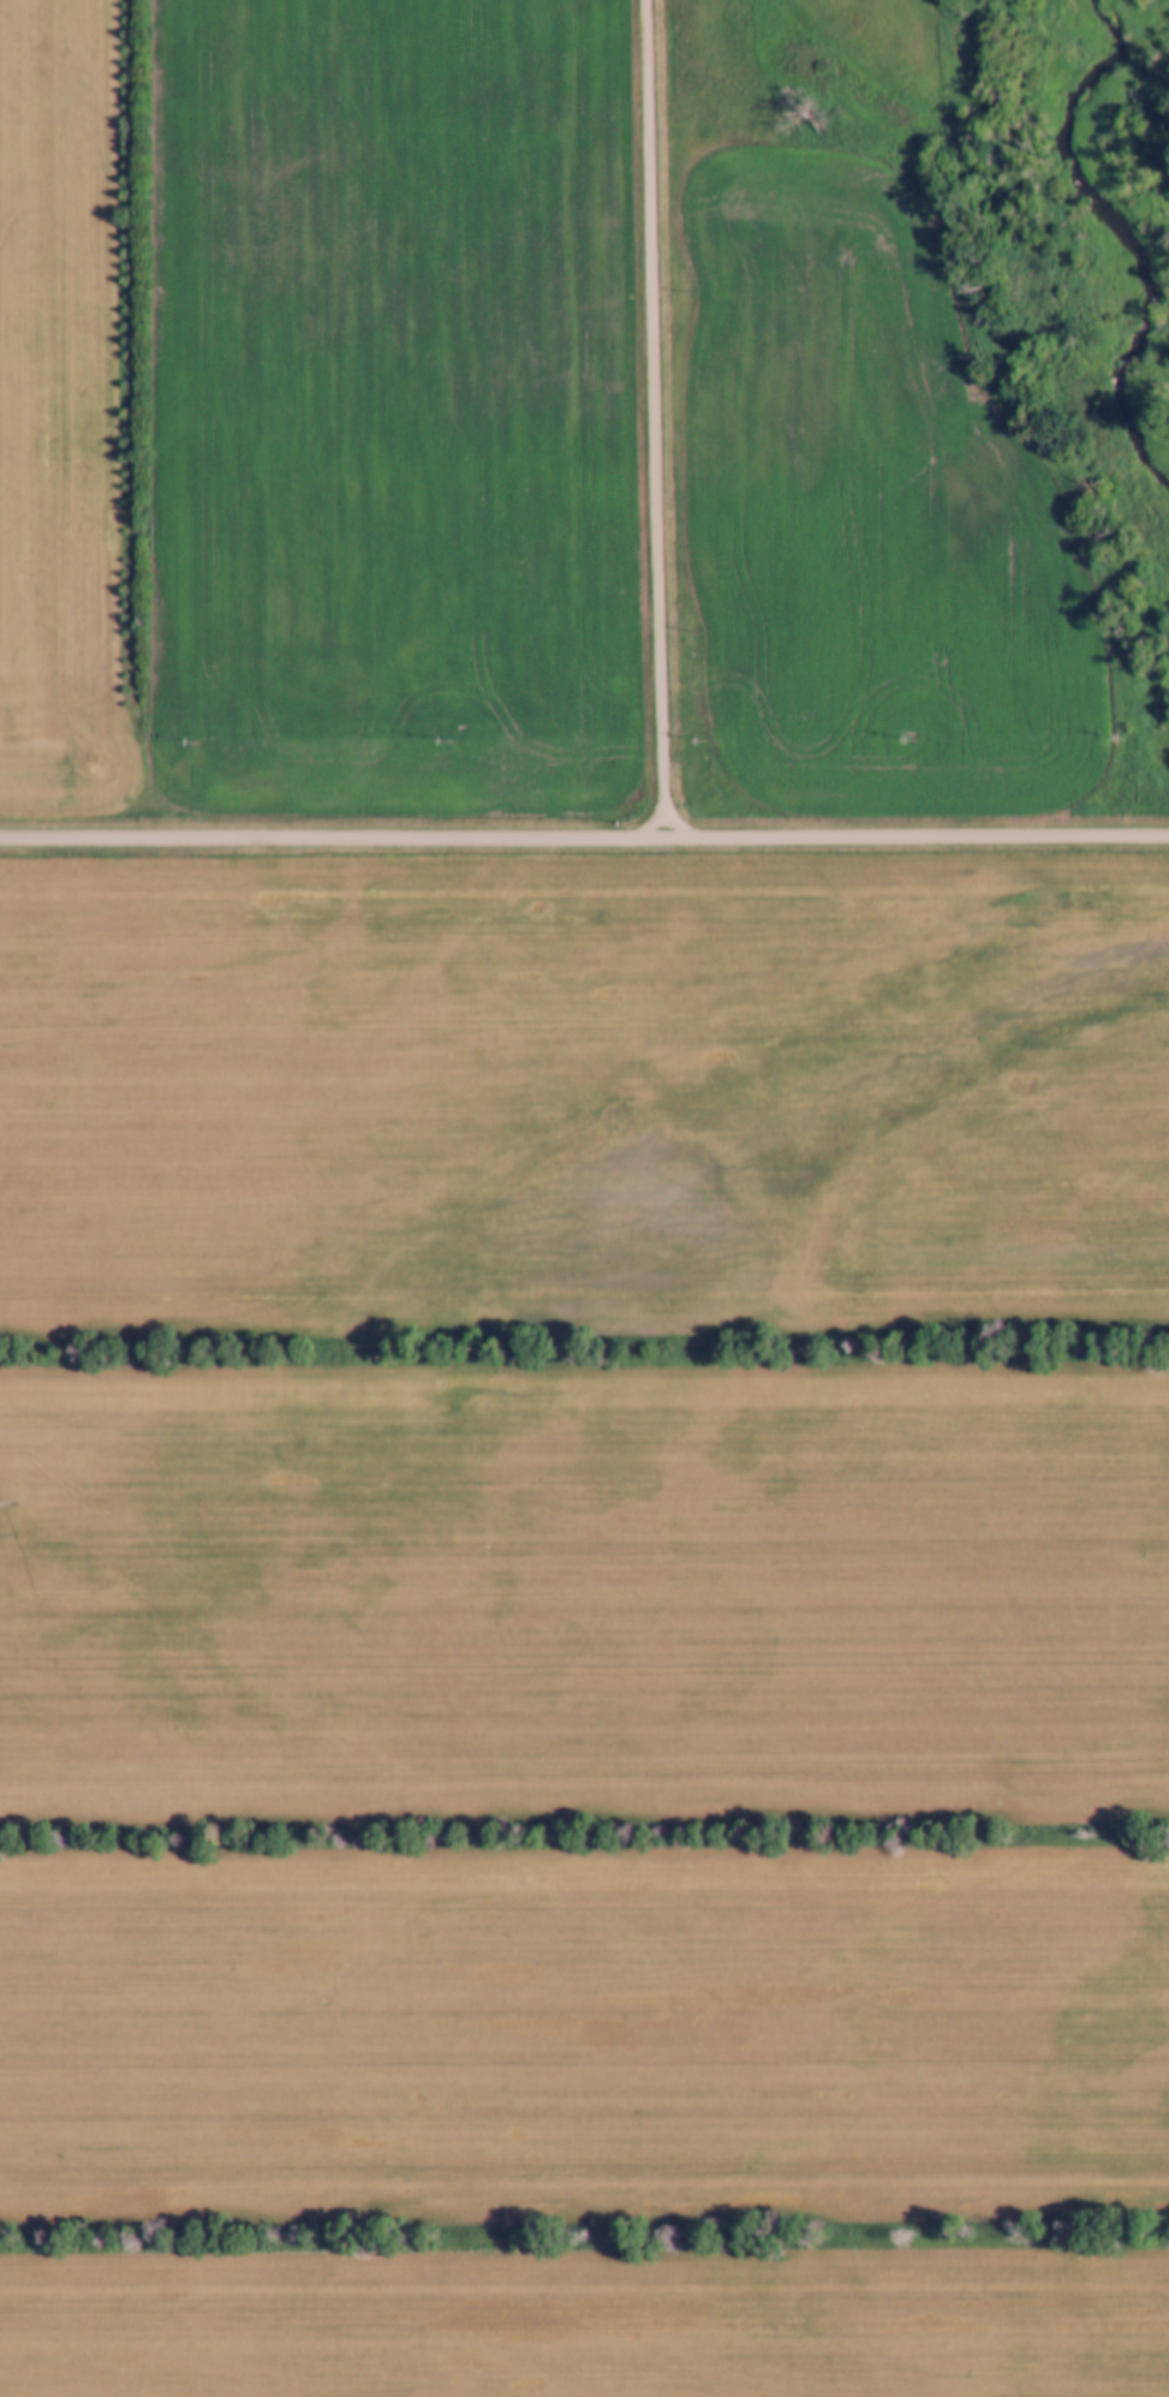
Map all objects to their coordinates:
road: (658, 419)
road: (584, 840)

